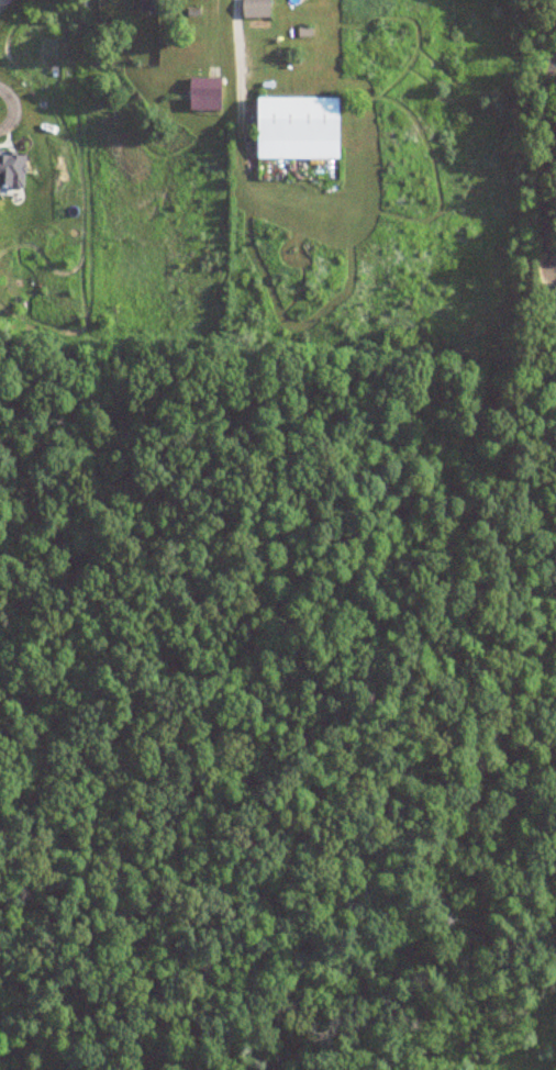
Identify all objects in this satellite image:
building: (148, 5)
building: (255, 9)
road: (240, 44)
building: (55, 77)
building: (203, 93)
building: (297, 127)
road: (546, 138)
road: (325, 431)
road: (393, 606)
park: (277, 702)
road: (549, 717)
road: (321, 821)
road: (402, 831)
road: (520, 905)
road: (114, 1014)

